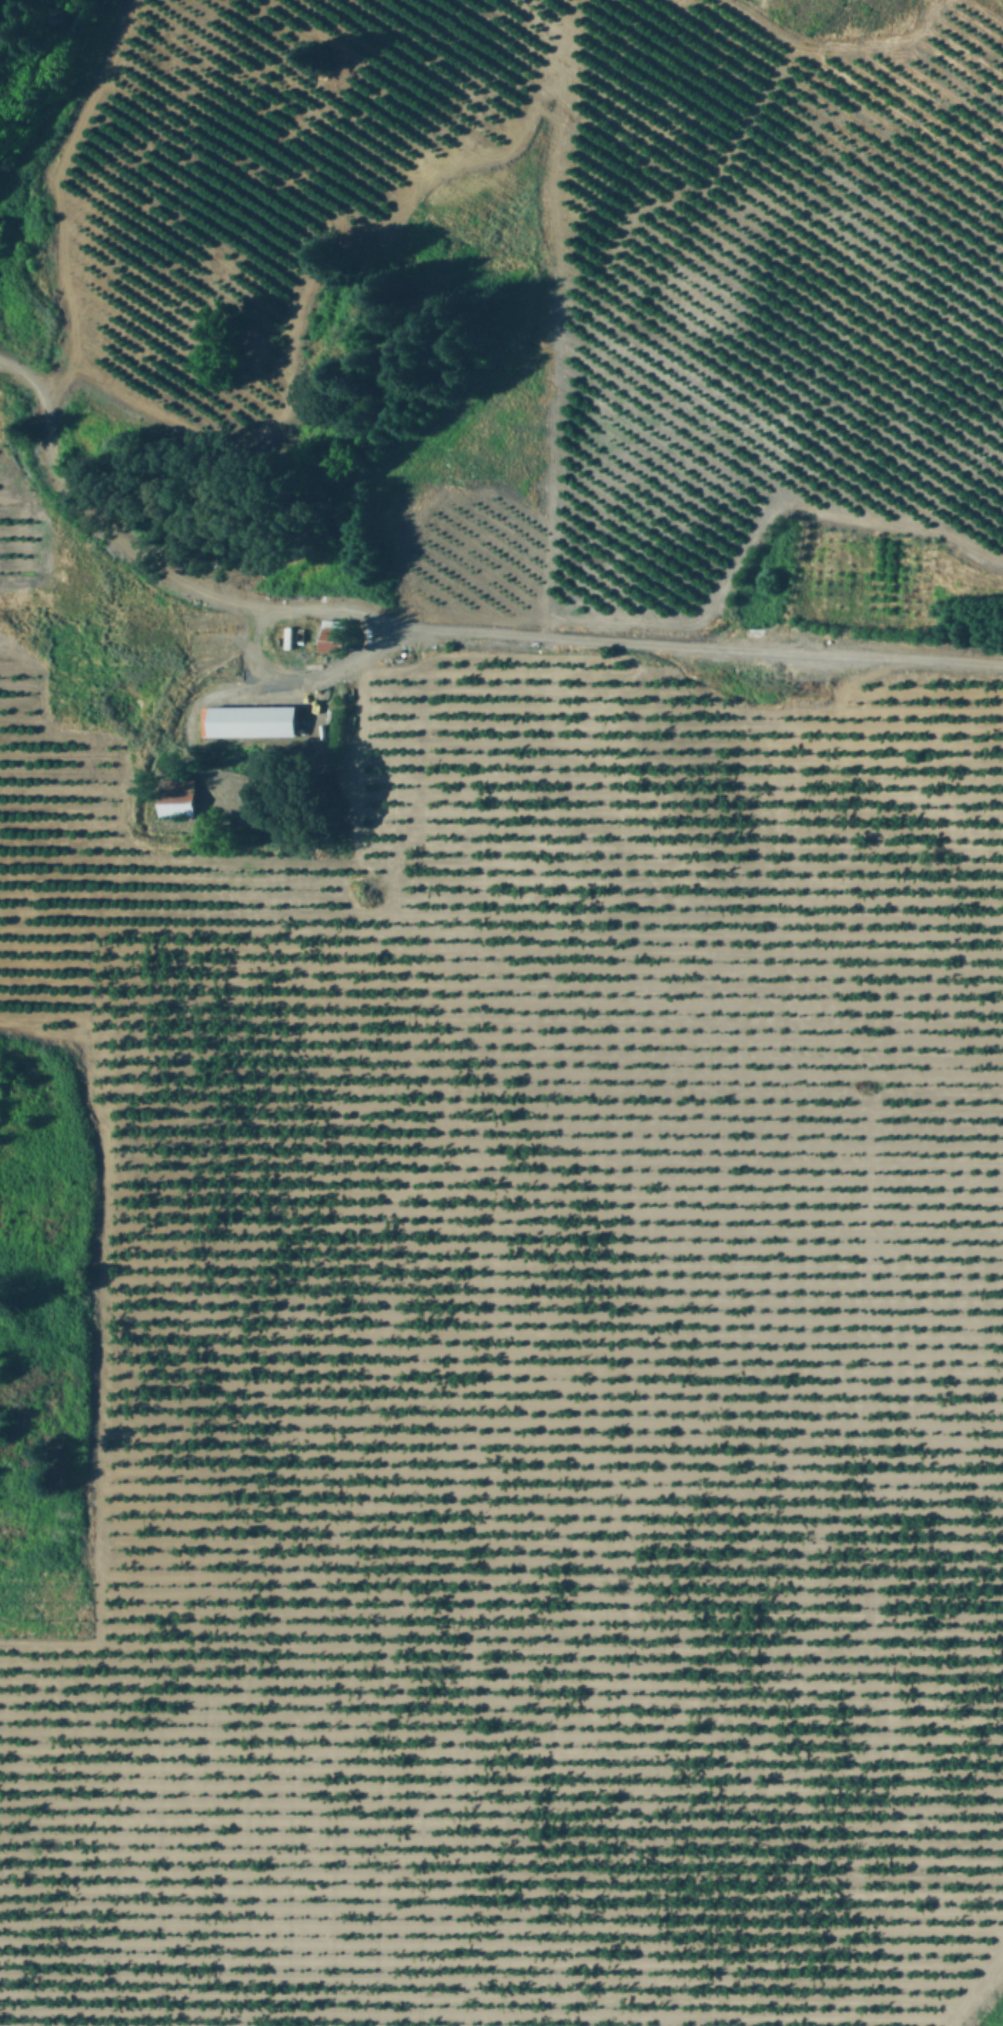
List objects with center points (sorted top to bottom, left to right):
crop: (469, 390)
building: (335, 636)
road: (248, 646)
road: (708, 646)
building: (255, 720)
building: (179, 802)
crop: (16, 1569)

